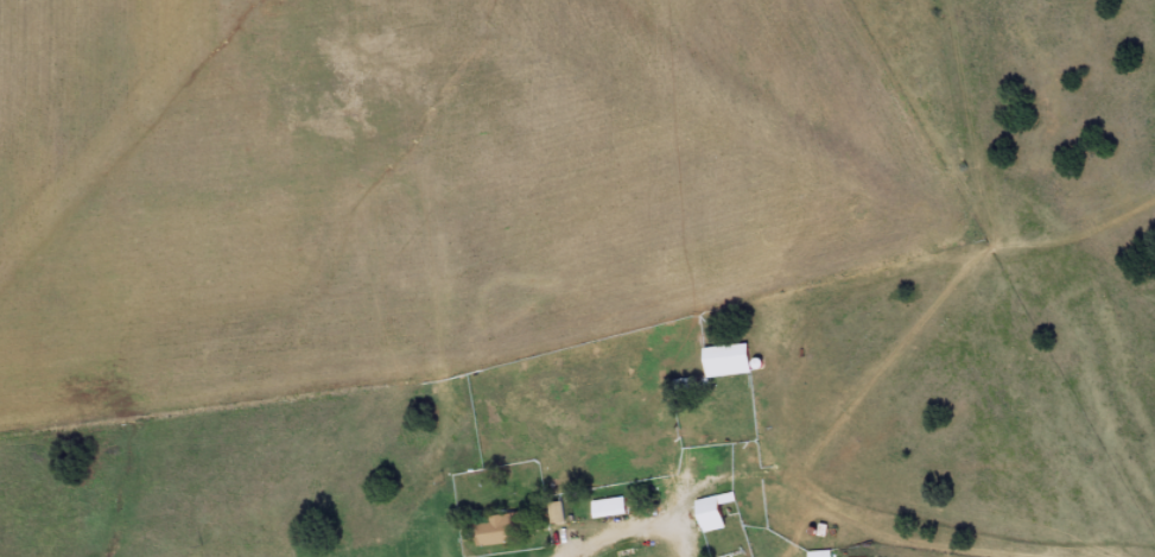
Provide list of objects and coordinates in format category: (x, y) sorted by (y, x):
road: (890, 297)
building: (729, 360)
road: (821, 480)
building: (610, 506)
building: (713, 512)
building: (502, 528)
building: (820, 553)

